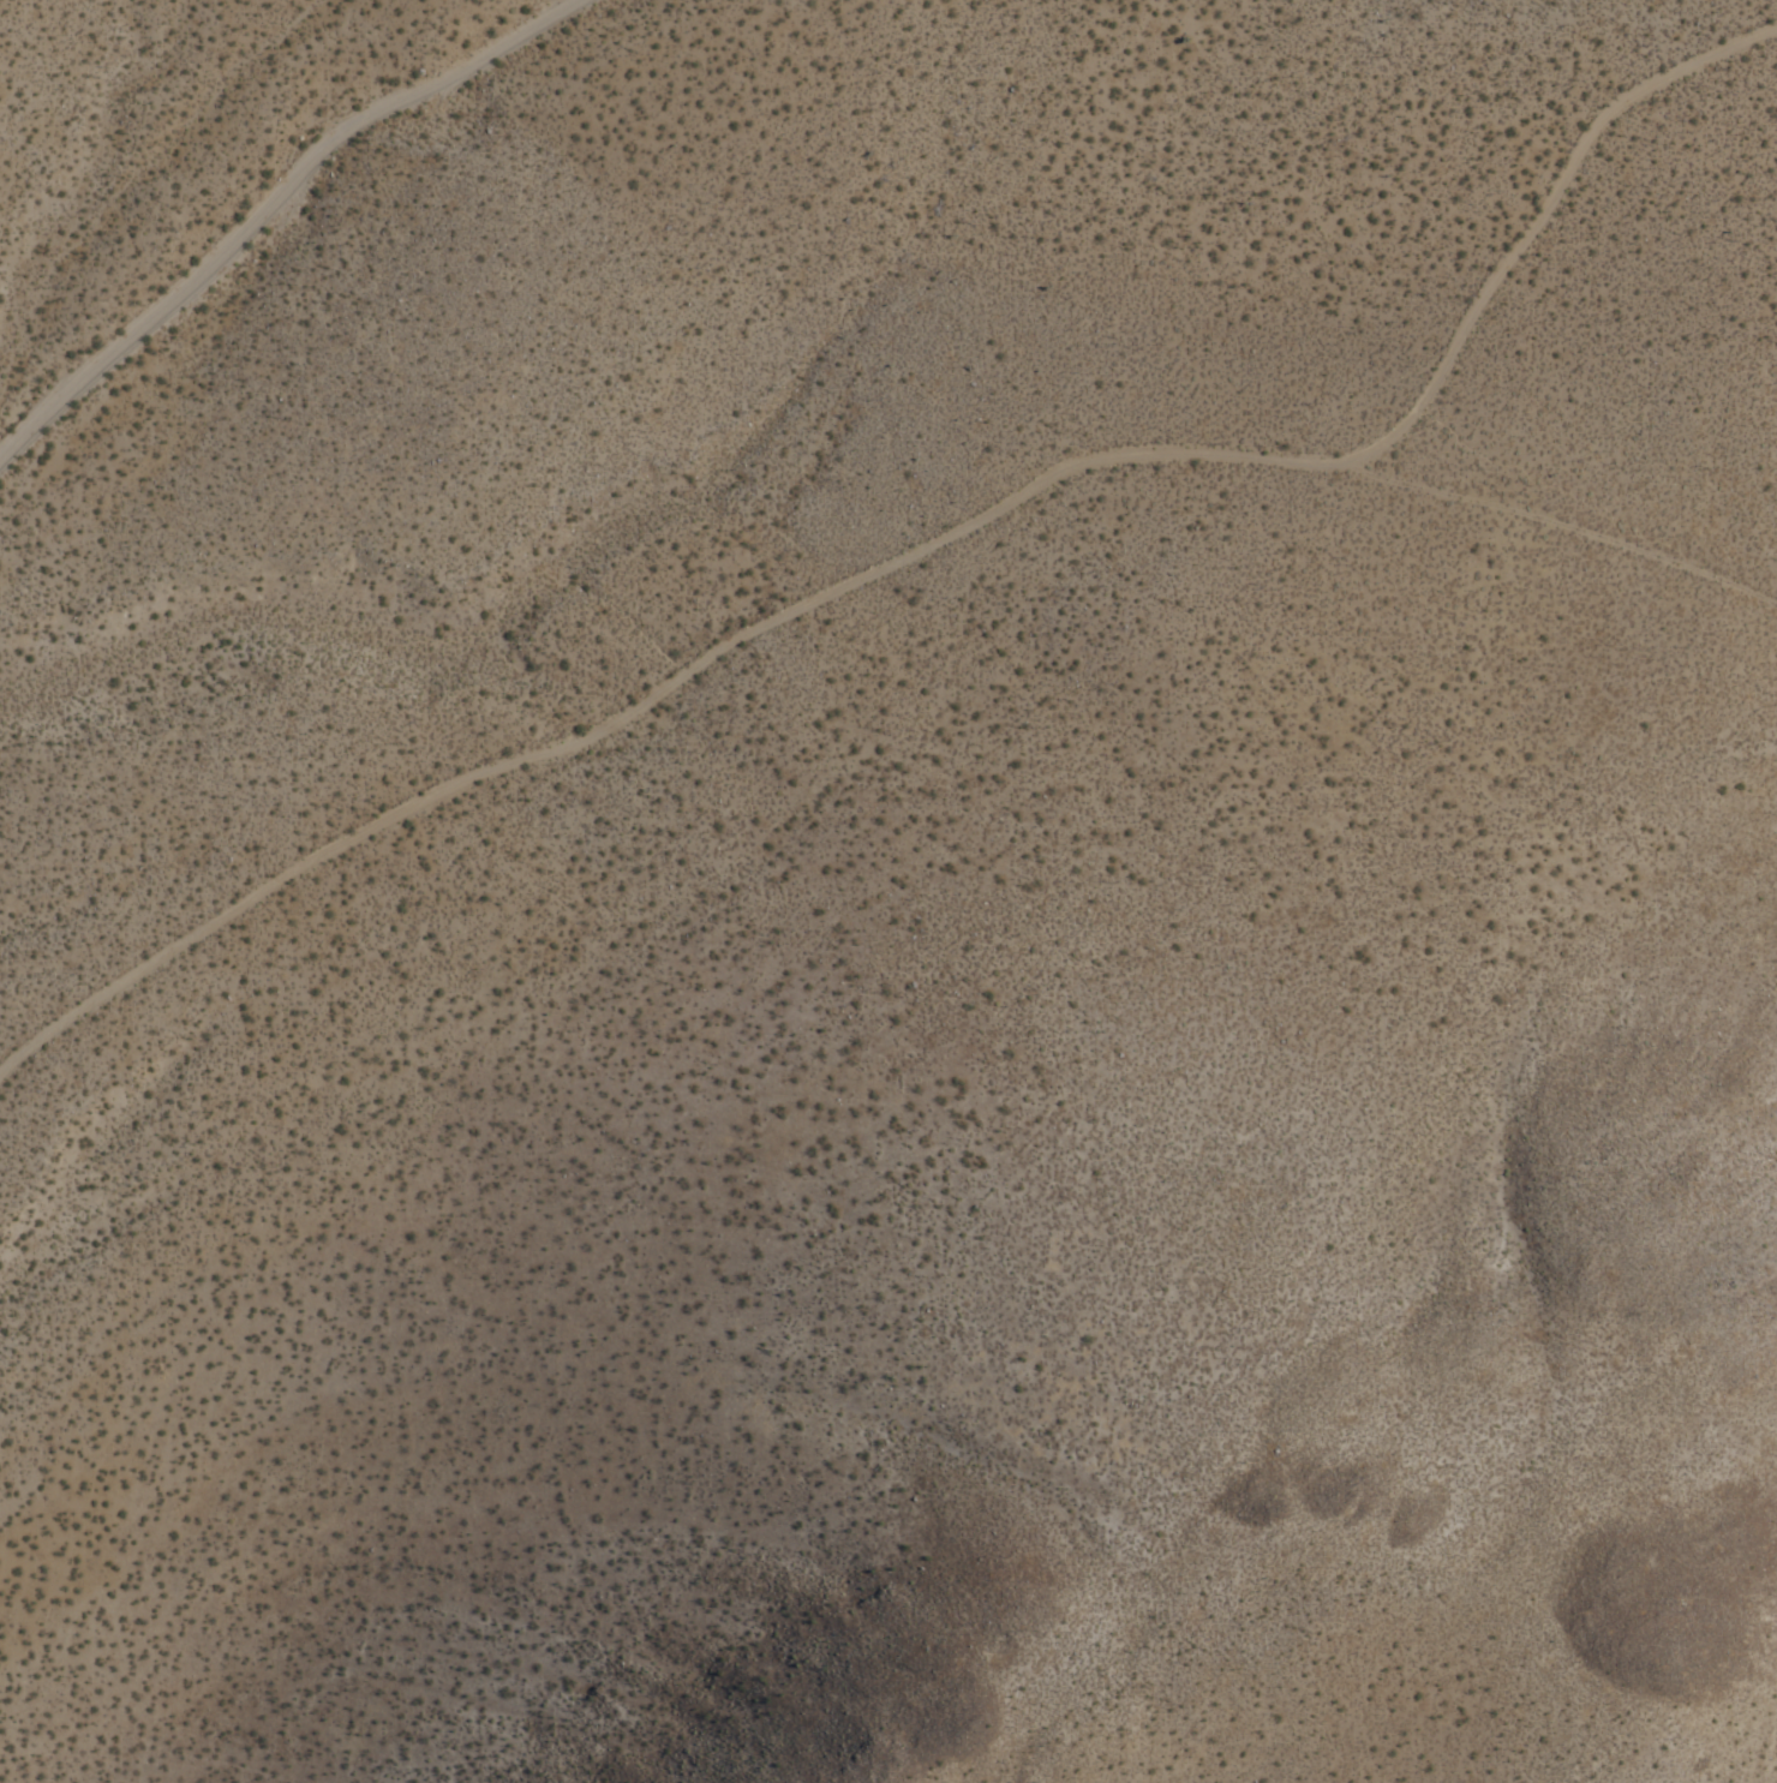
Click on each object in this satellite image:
road: (1542, 208)
road: (1569, 526)
road: (657, 688)

